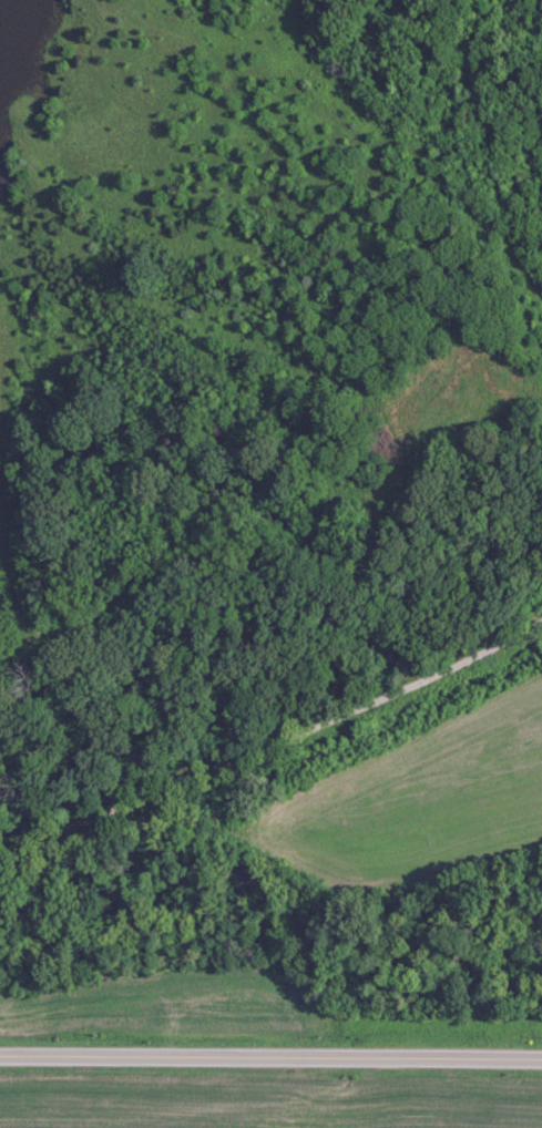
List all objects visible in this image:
road: (273, 744)
road: (270, 1057)

